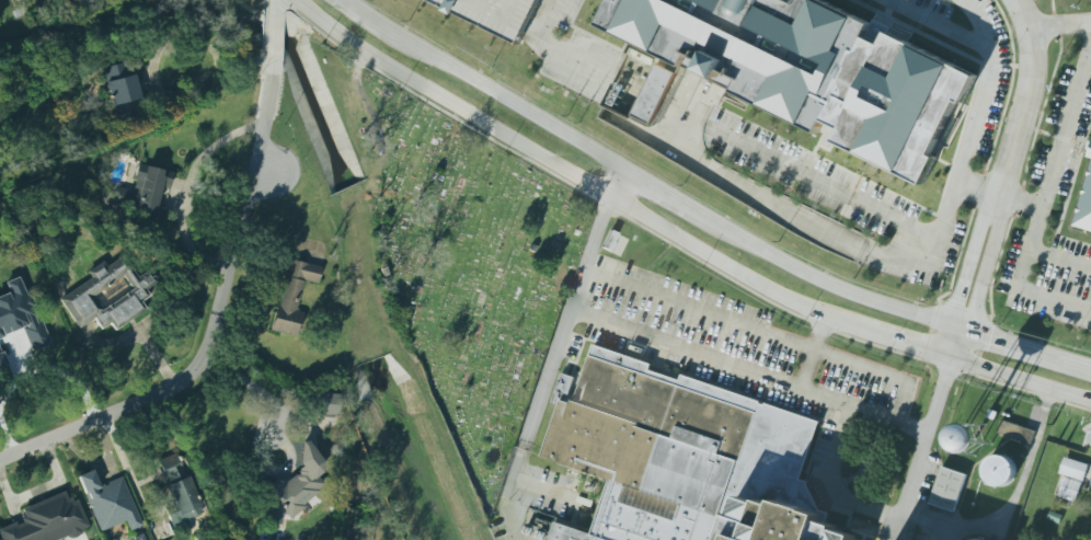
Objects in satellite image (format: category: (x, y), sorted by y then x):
road: (273, 7)
building: (498, 13)
parking lot: (497, 15)
road: (548, 19)
road: (940, 23)
road: (1060, 24)
road: (272, 35)
building: (751, 47)
road: (574, 56)
parking lot: (577, 56)
road: (221, 60)
building: (122, 91)
building: (654, 94)
road: (1026, 97)
road: (674, 107)
parking lot: (994, 115)
road: (698, 118)
road: (973, 133)
road: (1059, 137)
road: (1057, 154)
road: (990, 156)
building: (1090, 157)
road: (1026, 160)
road: (615, 180)
road: (818, 180)
parking lot: (819, 183)
road: (187, 187)
building: (140, 192)
road: (1000, 195)
road: (1068, 195)
road: (763, 197)
parking lot: (1056, 199)
building: (1086, 211)
road: (704, 215)
road: (677, 233)
road: (1060, 258)
park: (468, 271)
road: (966, 273)
road: (983, 277)
building: (110, 295)
building: (294, 296)
road: (1054, 299)
road: (964, 311)
building: (20, 314)
road: (210, 318)
road: (747, 325)
parking lot: (717, 340)
road: (814, 352)
building: (2, 359)
road: (549, 367)
road: (748, 369)
road: (246, 389)
road: (906, 402)
building: (1015, 432)
road: (5, 436)
road: (1037, 437)
building: (974, 438)
building: (1088, 440)
road: (922, 448)
building: (686, 458)
road: (99, 463)
building: (1000, 471)
building: (1072, 480)
road: (830, 482)
building: (295, 485)
road: (43, 489)
building: (948, 489)
building: (179, 492)
road: (550, 492)
building: (108, 502)
building: (46, 520)
building: (139, 537)

